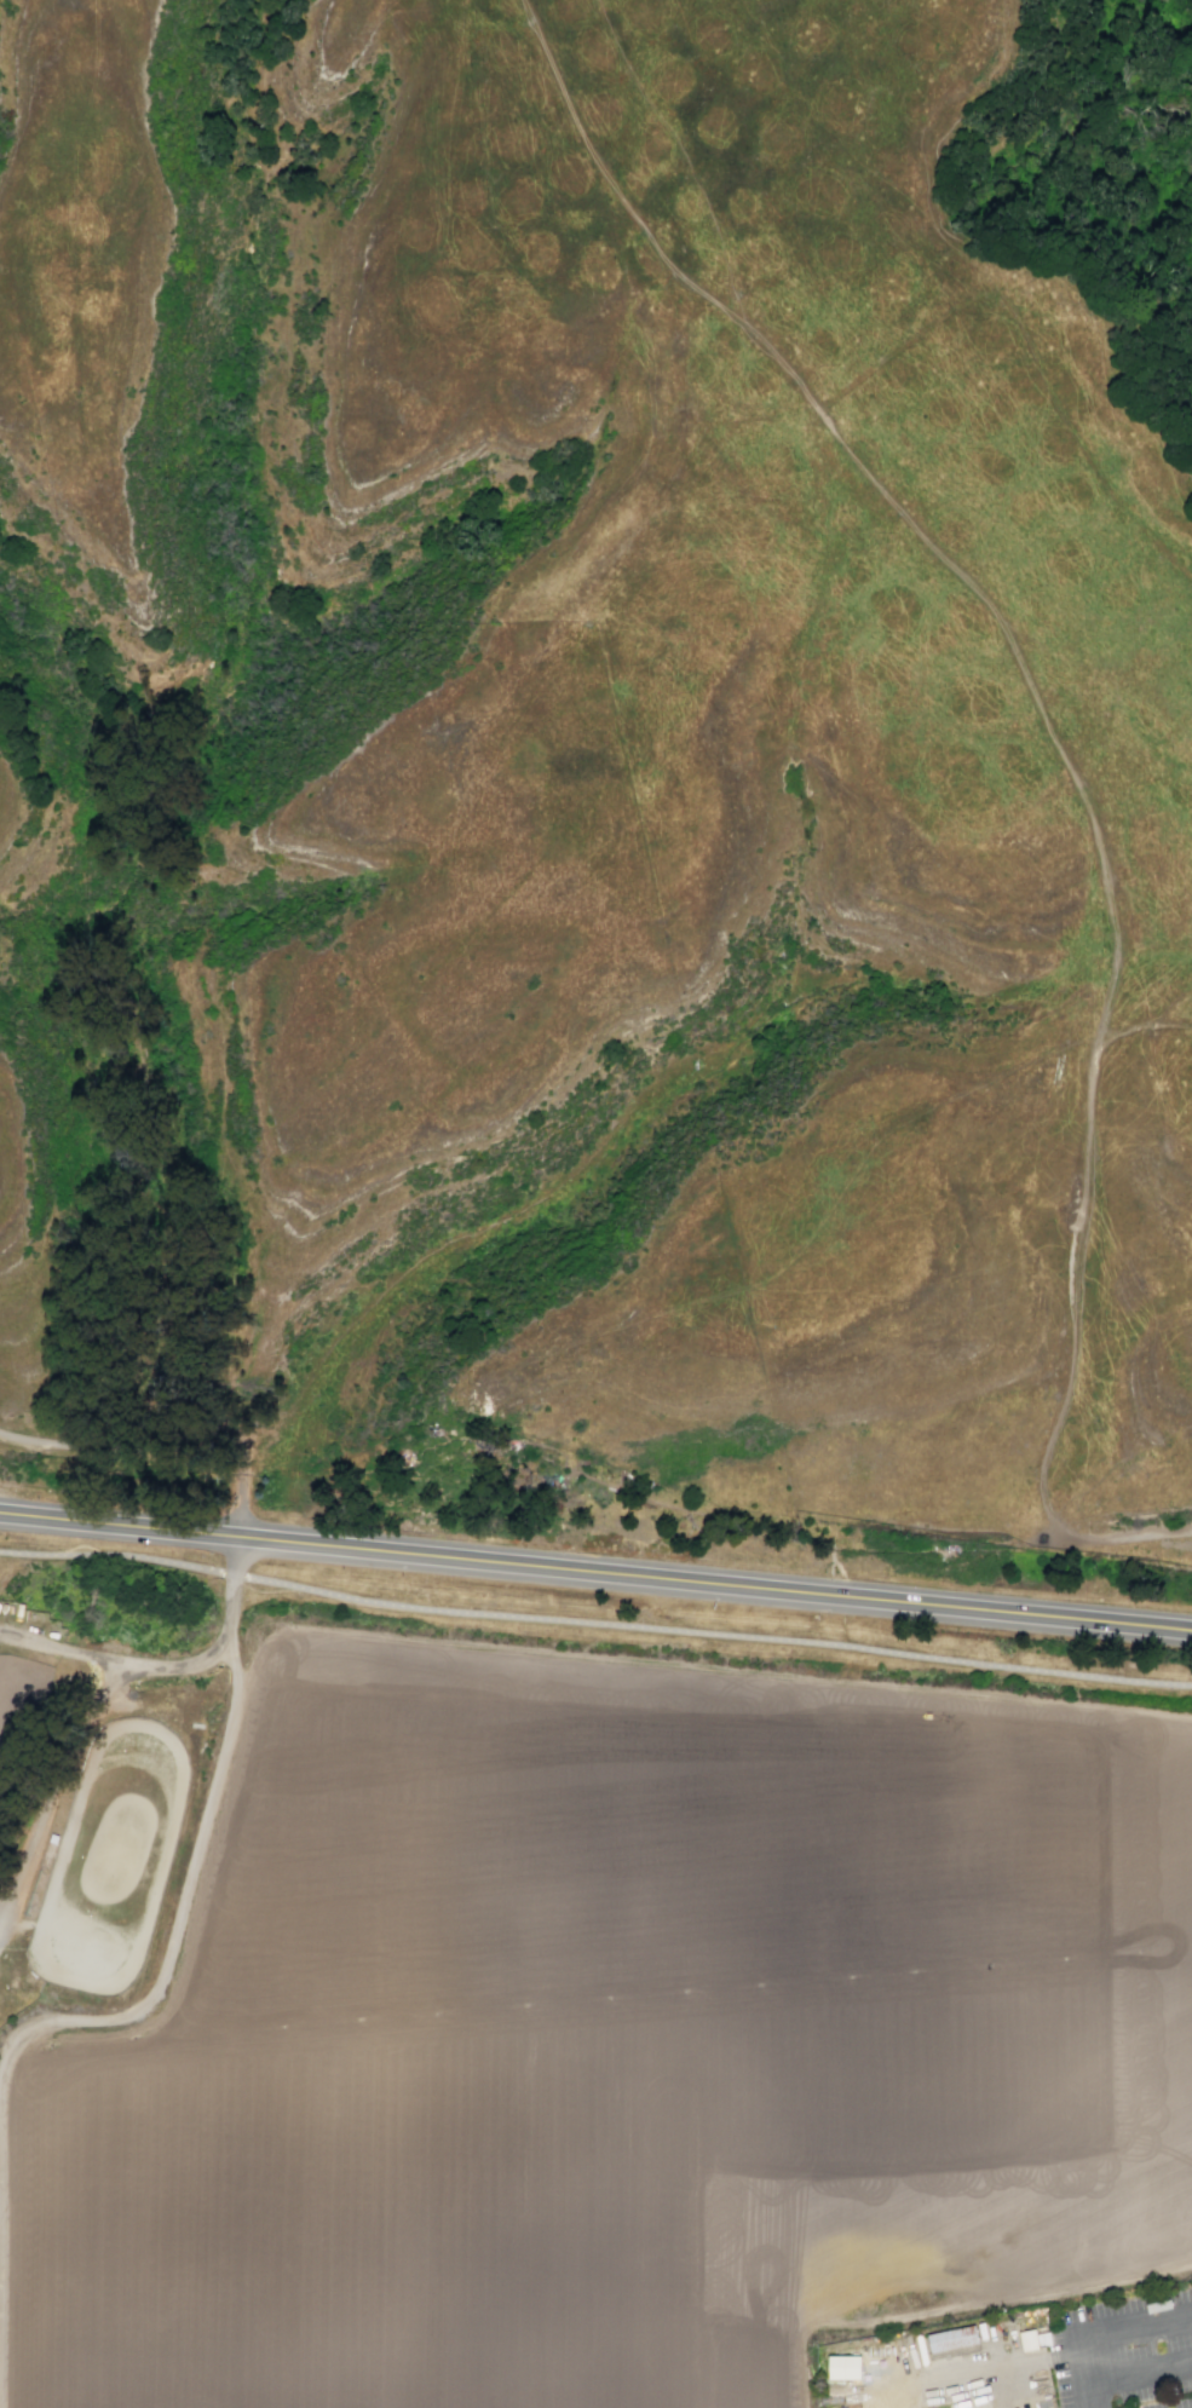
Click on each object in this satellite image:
road: (847, 152)
road: (1012, 271)
road: (886, 358)
road: (1072, 426)
road: (941, 561)
road: (1142, 830)
crop: (333, 1003)
road: (1136, 1025)
road: (1123, 1219)
road: (767, 1361)
road: (1066, 1410)
road: (54, 1444)
road: (143, 1452)
road: (243, 1468)
road: (50, 1520)
road: (159, 1532)
road: (1153, 1536)
road: (834, 1560)
road: (704, 1585)
road: (594, 1624)
road: (116, 1664)
road: (699, 1672)
road: (195, 1862)
crop: (560, 2018)
road: (962, 2303)
road: (1095, 2335)
building: (1027, 2339)
building: (954, 2340)
parking lot: (1125, 2352)
building: (842, 2367)
road: (1131, 2377)

